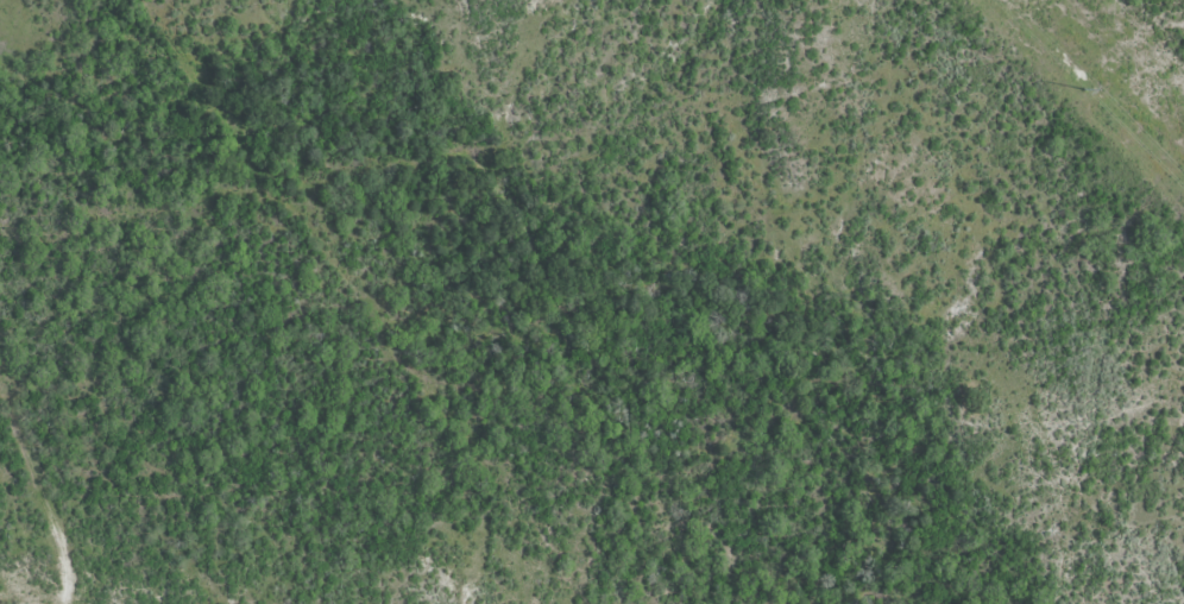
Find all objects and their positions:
power tower: (1085, 90)

